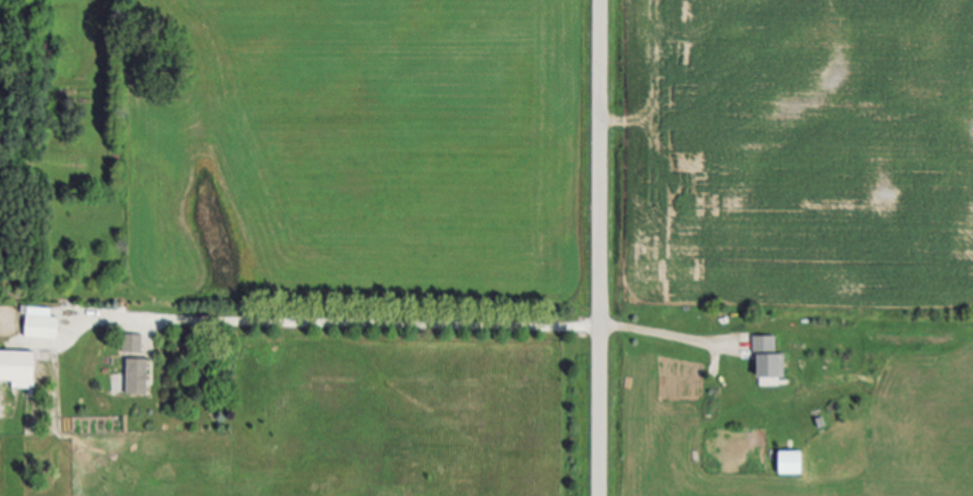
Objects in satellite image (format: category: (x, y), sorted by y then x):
road: (601, 248)
building: (41, 324)
road: (440, 324)
building: (135, 345)
building: (769, 359)
building: (20, 368)
building: (139, 378)
building: (790, 464)

